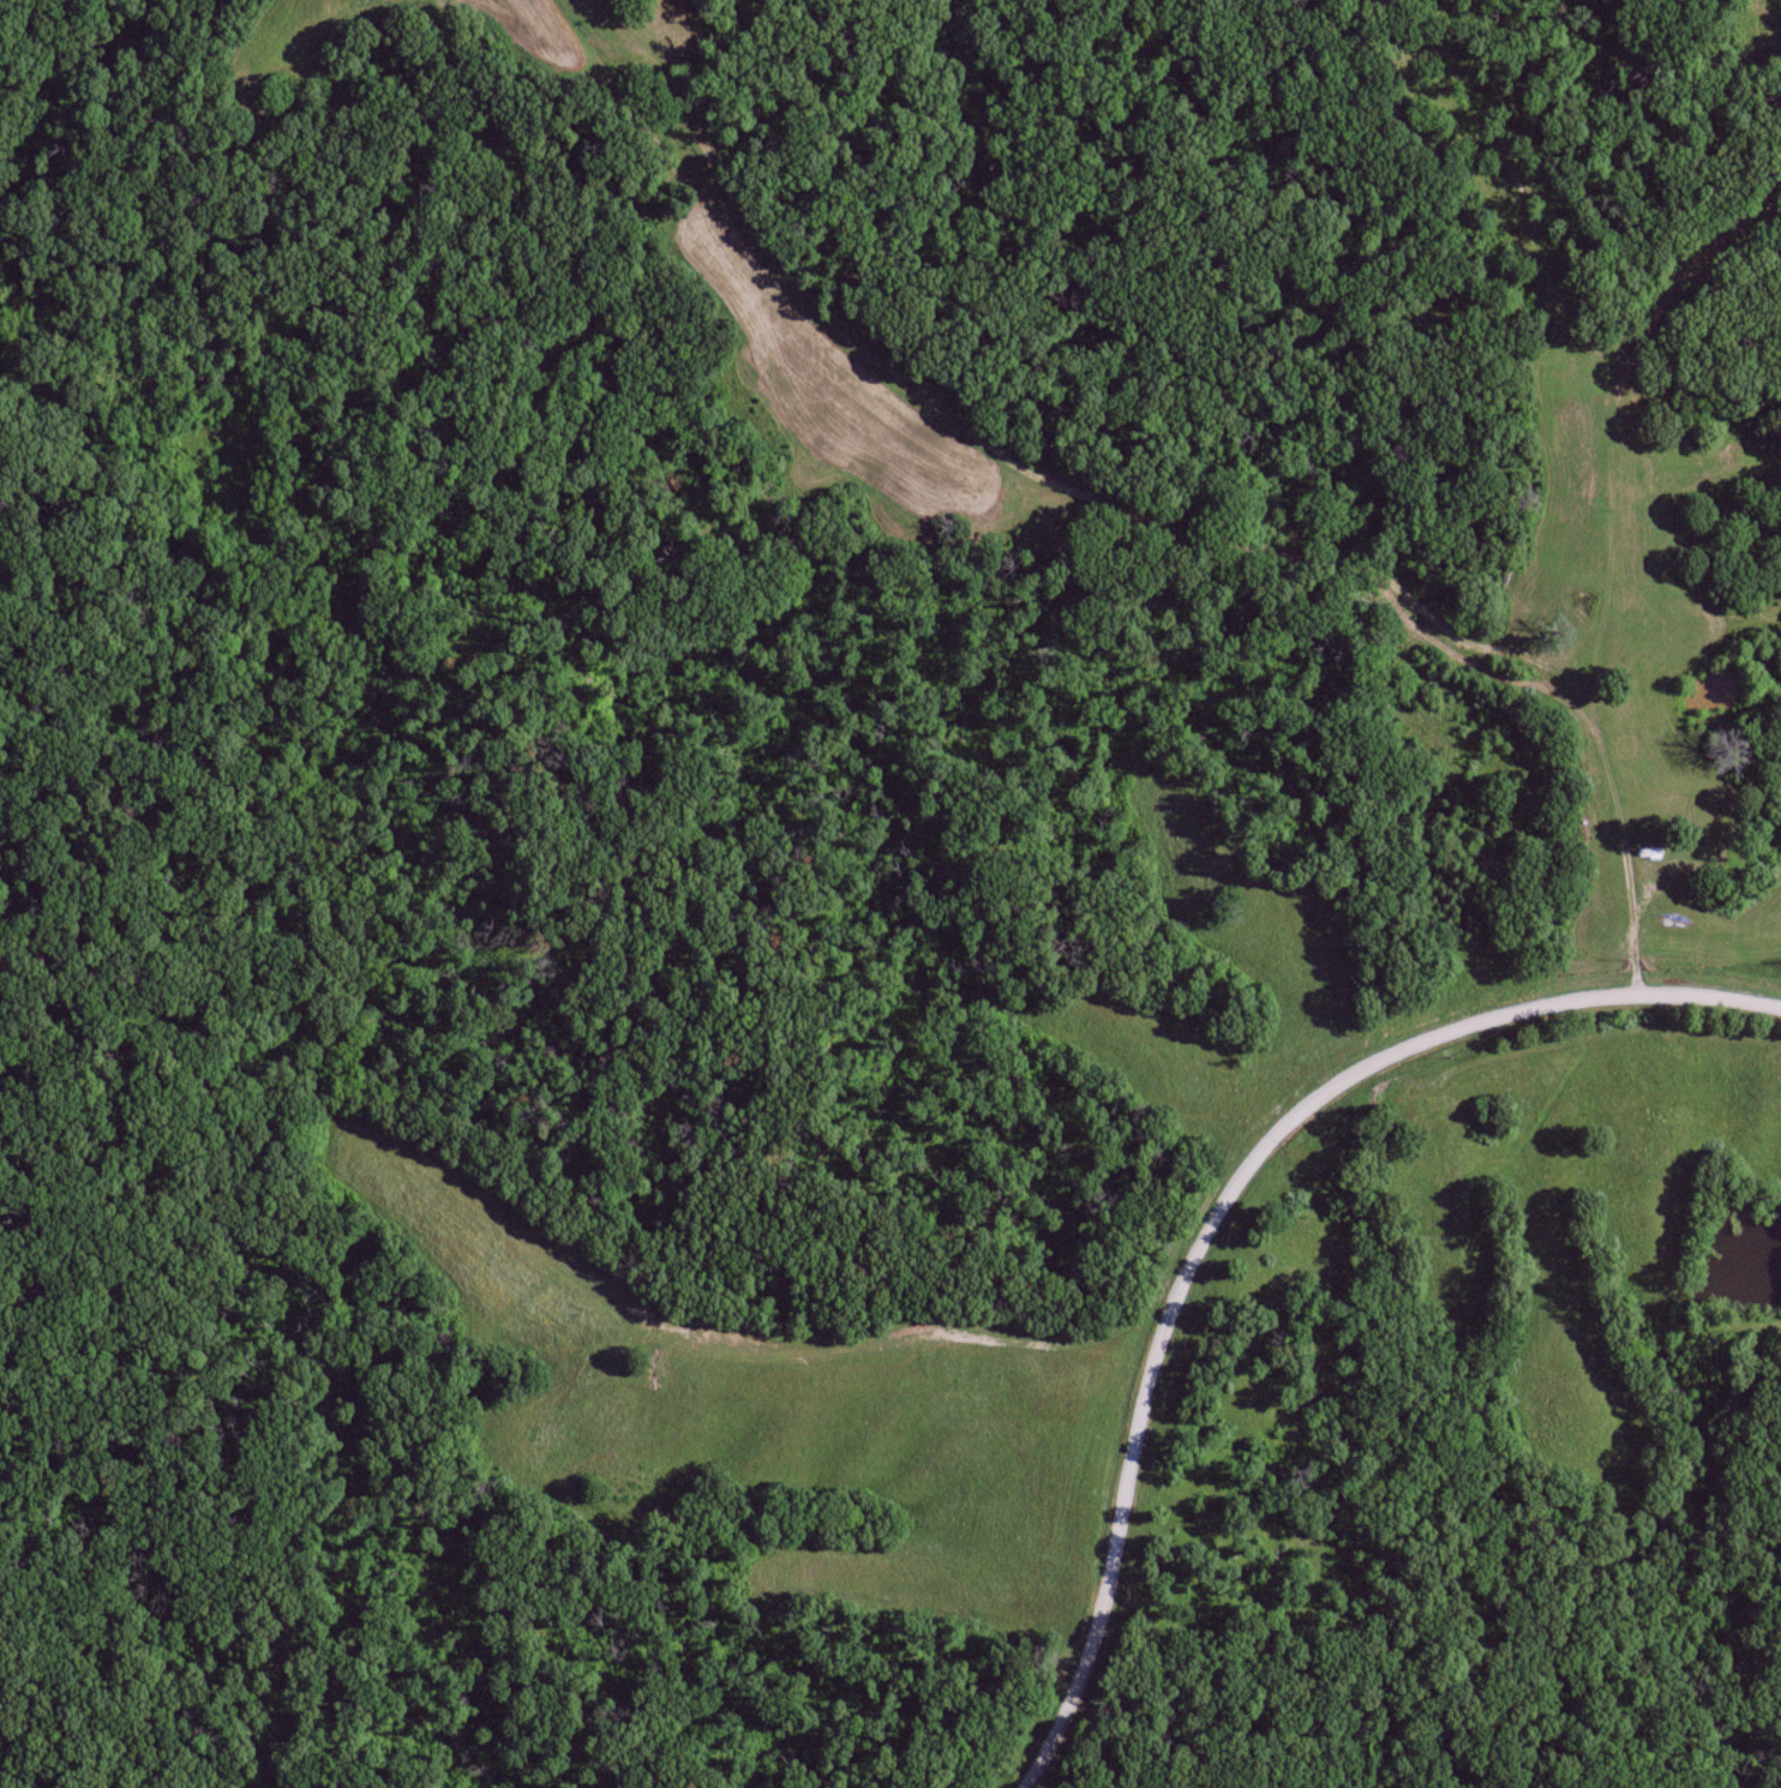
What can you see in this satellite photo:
road: (1218, 1195)

